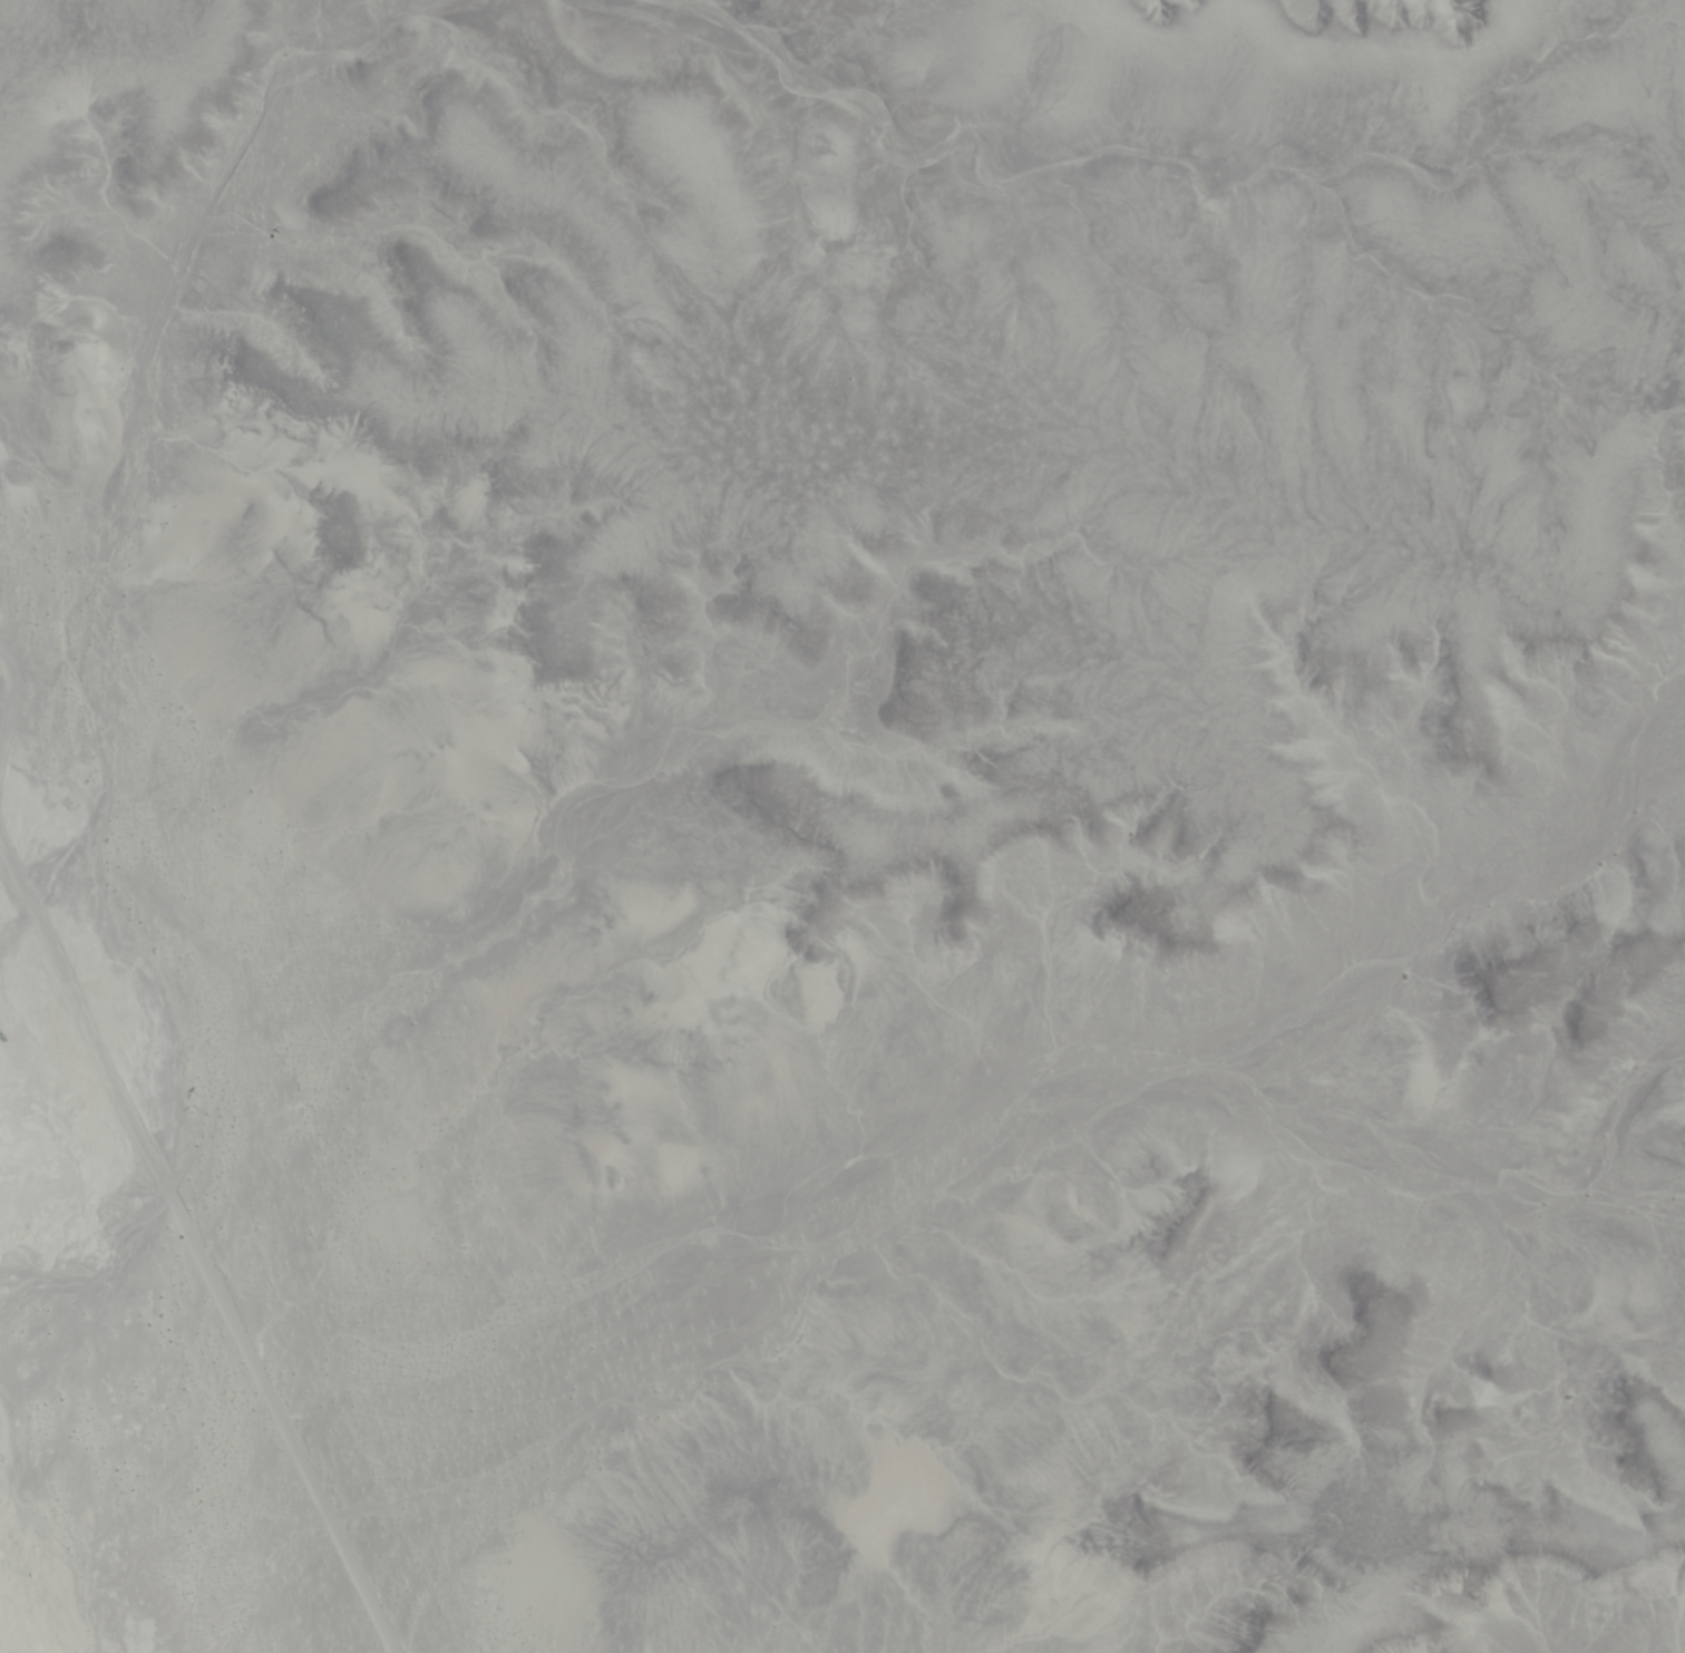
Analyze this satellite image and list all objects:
road: (8, 699)
road: (197, 1238)

